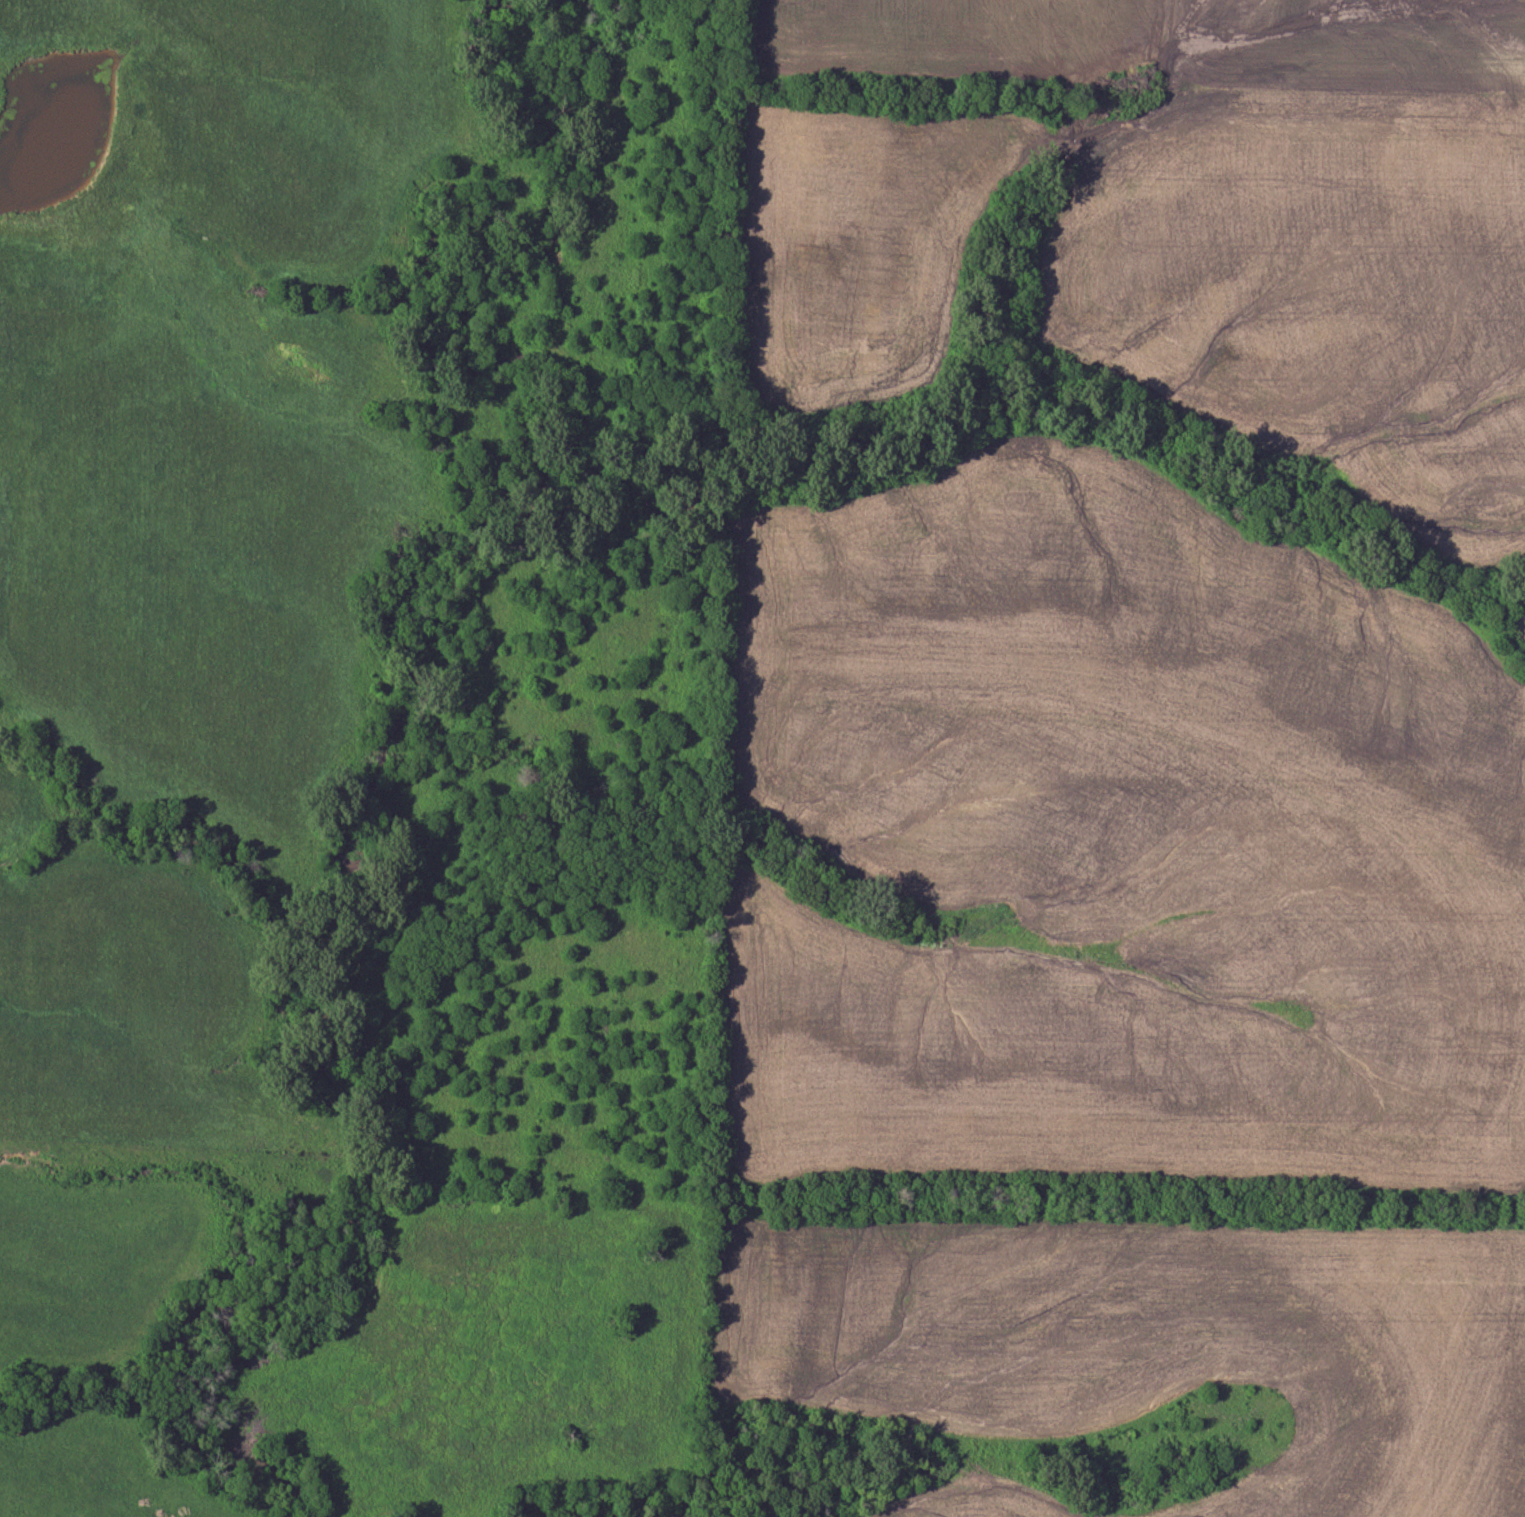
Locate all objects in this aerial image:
crop: (1143, 39)
crop: (855, 235)

